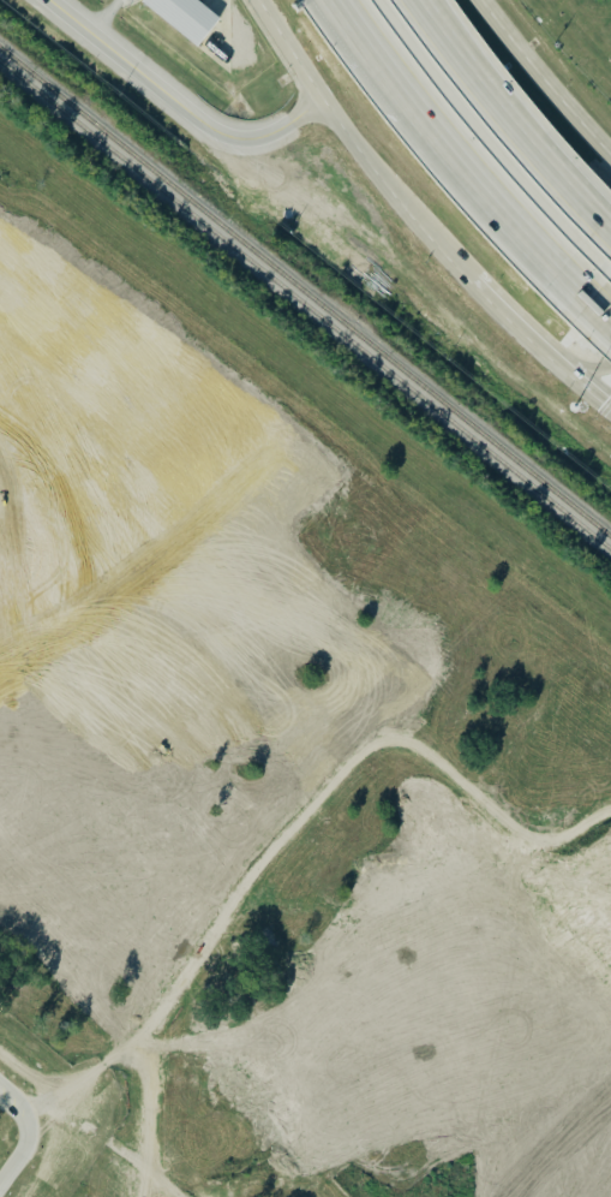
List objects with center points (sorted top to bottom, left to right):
building: (184, 18)
road: (366, 58)
road: (543, 81)
road: (181, 107)
road: (502, 127)
road: (355, 133)
road: (497, 208)
railway: (305, 294)
railway: (305, 309)
road: (599, 309)
road: (499, 311)
road: (580, 370)
railway: (305, 375)
road: (580, 386)
road: (292, 830)
road: (22, 1112)
road: (16, 1160)

